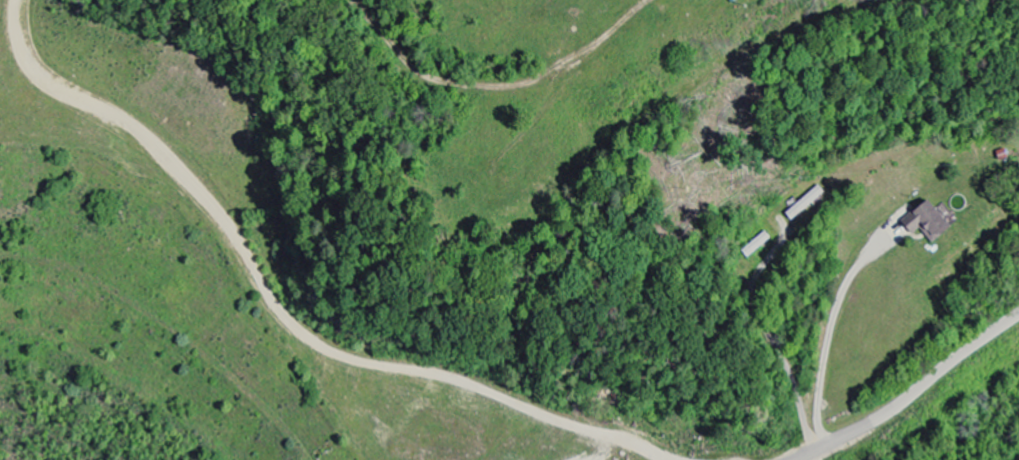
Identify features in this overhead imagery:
building: (804, 204)
building: (926, 221)
road: (908, 393)

